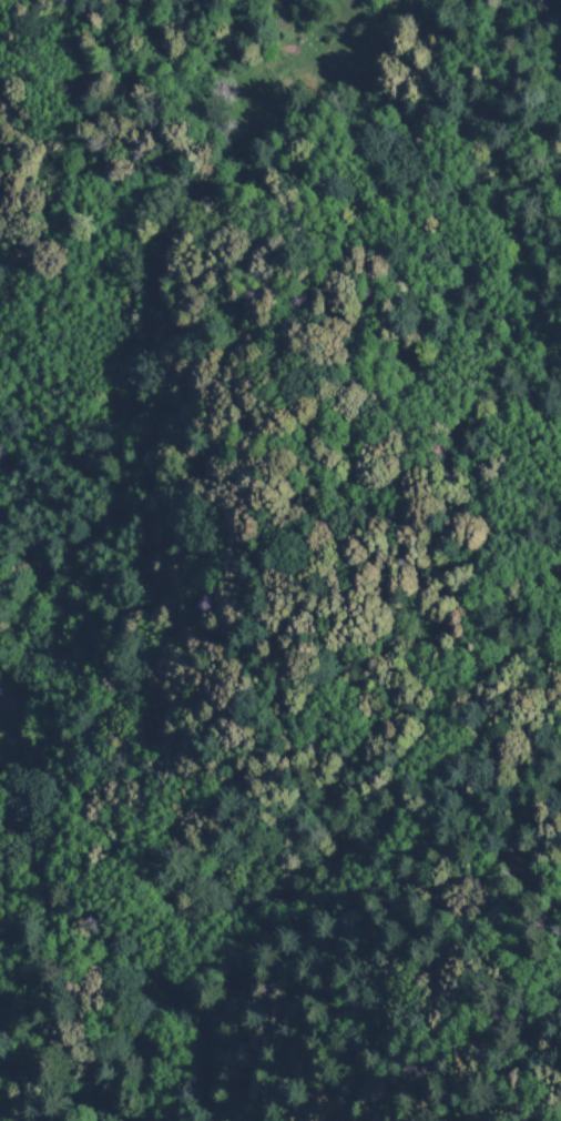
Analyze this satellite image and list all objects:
road: (33, 63)

